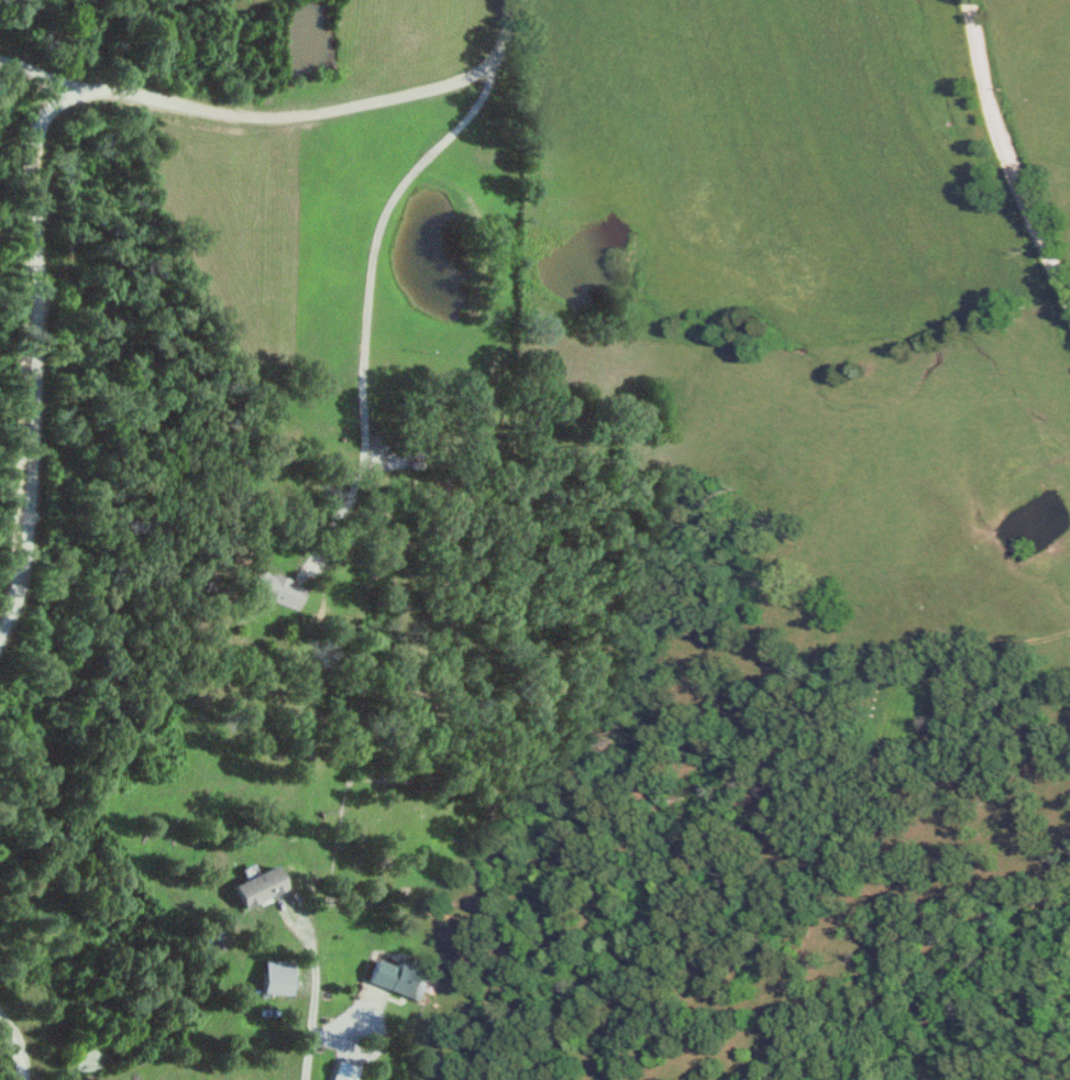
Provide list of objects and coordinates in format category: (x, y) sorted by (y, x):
road: (508, 33)
road: (51, 76)
road: (37, 144)
road: (1010, 150)
road: (382, 234)
building: (282, 589)
building: (263, 888)
building: (279, 978)
building: (400, 979)
road: (22, 1039)
road: (308, 1068)
building: (344, 1072)

